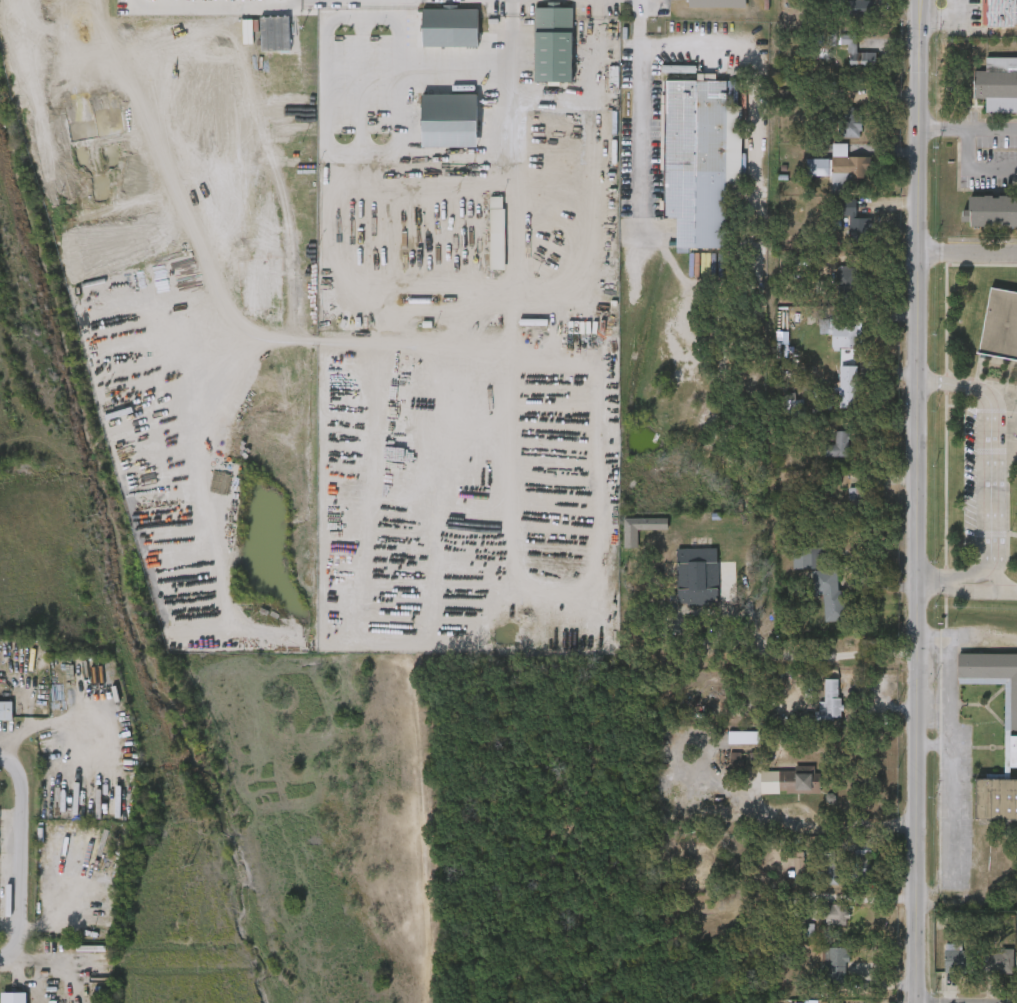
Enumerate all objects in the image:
road: (293, 0)
road: (310, 0)
road: (343, 0)
building: (715, 3)
road: (211, 7)
building: (854, 7)
building: (1001, 14)
road: (642, 19)
road: (945, 20)
building: (449, 27)
building: (275, 34)
road: (116, 36)
building: (551, 44)
building: (855, 55)
building: (996, 80)
building: (858, 95)
building: (449, 121)
building: (848, 122)
road: (641, 127)
road: (967, 132)
building: (693, 161)
building: (839, 169)
road: (974, 169)
road: (434, 173)
building: (849, 210)
building: (992, 212)
building: (496, 233)
road: (518, 233)
road: (968, 252)
building: (847, 285)
road: (544, 302)
building: (999, 329)
building: (846, 335)
road: (769, 376)
building: (848, 385)
building: (792, 404)
building: (839, 444)
road: (995, 465)
building: (855, 493)
road: (917, 501)
building: (640, 529)
building: (808, 558)
building: (696, 576)
road: (932, 580)
road: (558, 591)
road: (980, 591)
building: (829, 594)
building: (831, 698)
building: (5, 711)
building: (1010, 726)
building: (743, 738)
road: (952, 741)
road: (934, 745)
building: (753, 759)
building: (736, 761)
building: (797, 782)
road: (855, 826)
building: (862, 845)
road: (19, 857)
building: (859, 859)
building: (799, 863)
building: (831, 873)
road: (861, 899)
building: (836, 915)
building: (808, 930)
building: (1016, 959)
building: (958, 960)
building: (998, 961)
building: (837, 965)
road: (40, 966)
road: (24, 977)
building: (14, 998)

